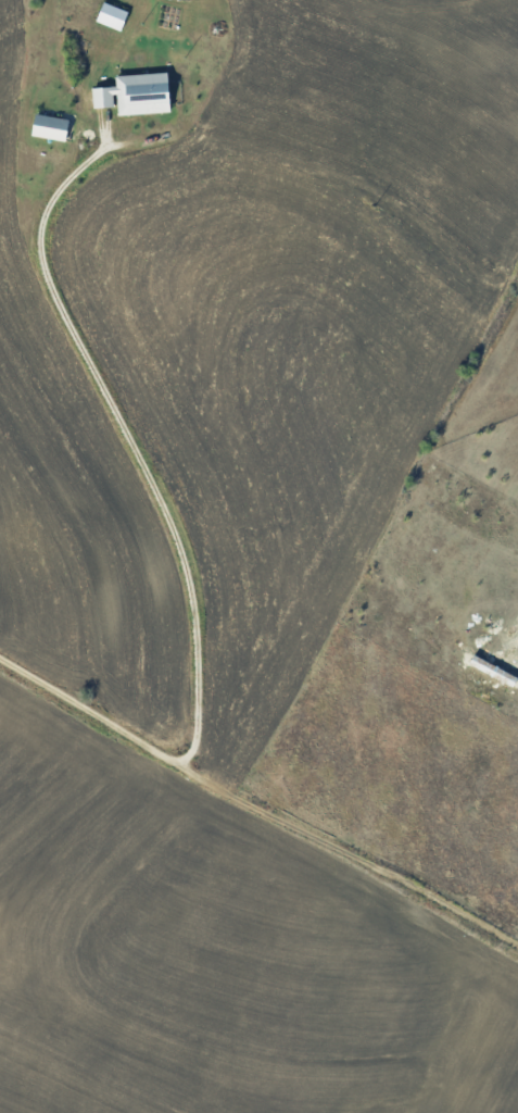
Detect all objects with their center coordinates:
building: (114, 15)
building: (138, 93)
building: (52, 126)
road: (149, 457)
road: (256, 804)

